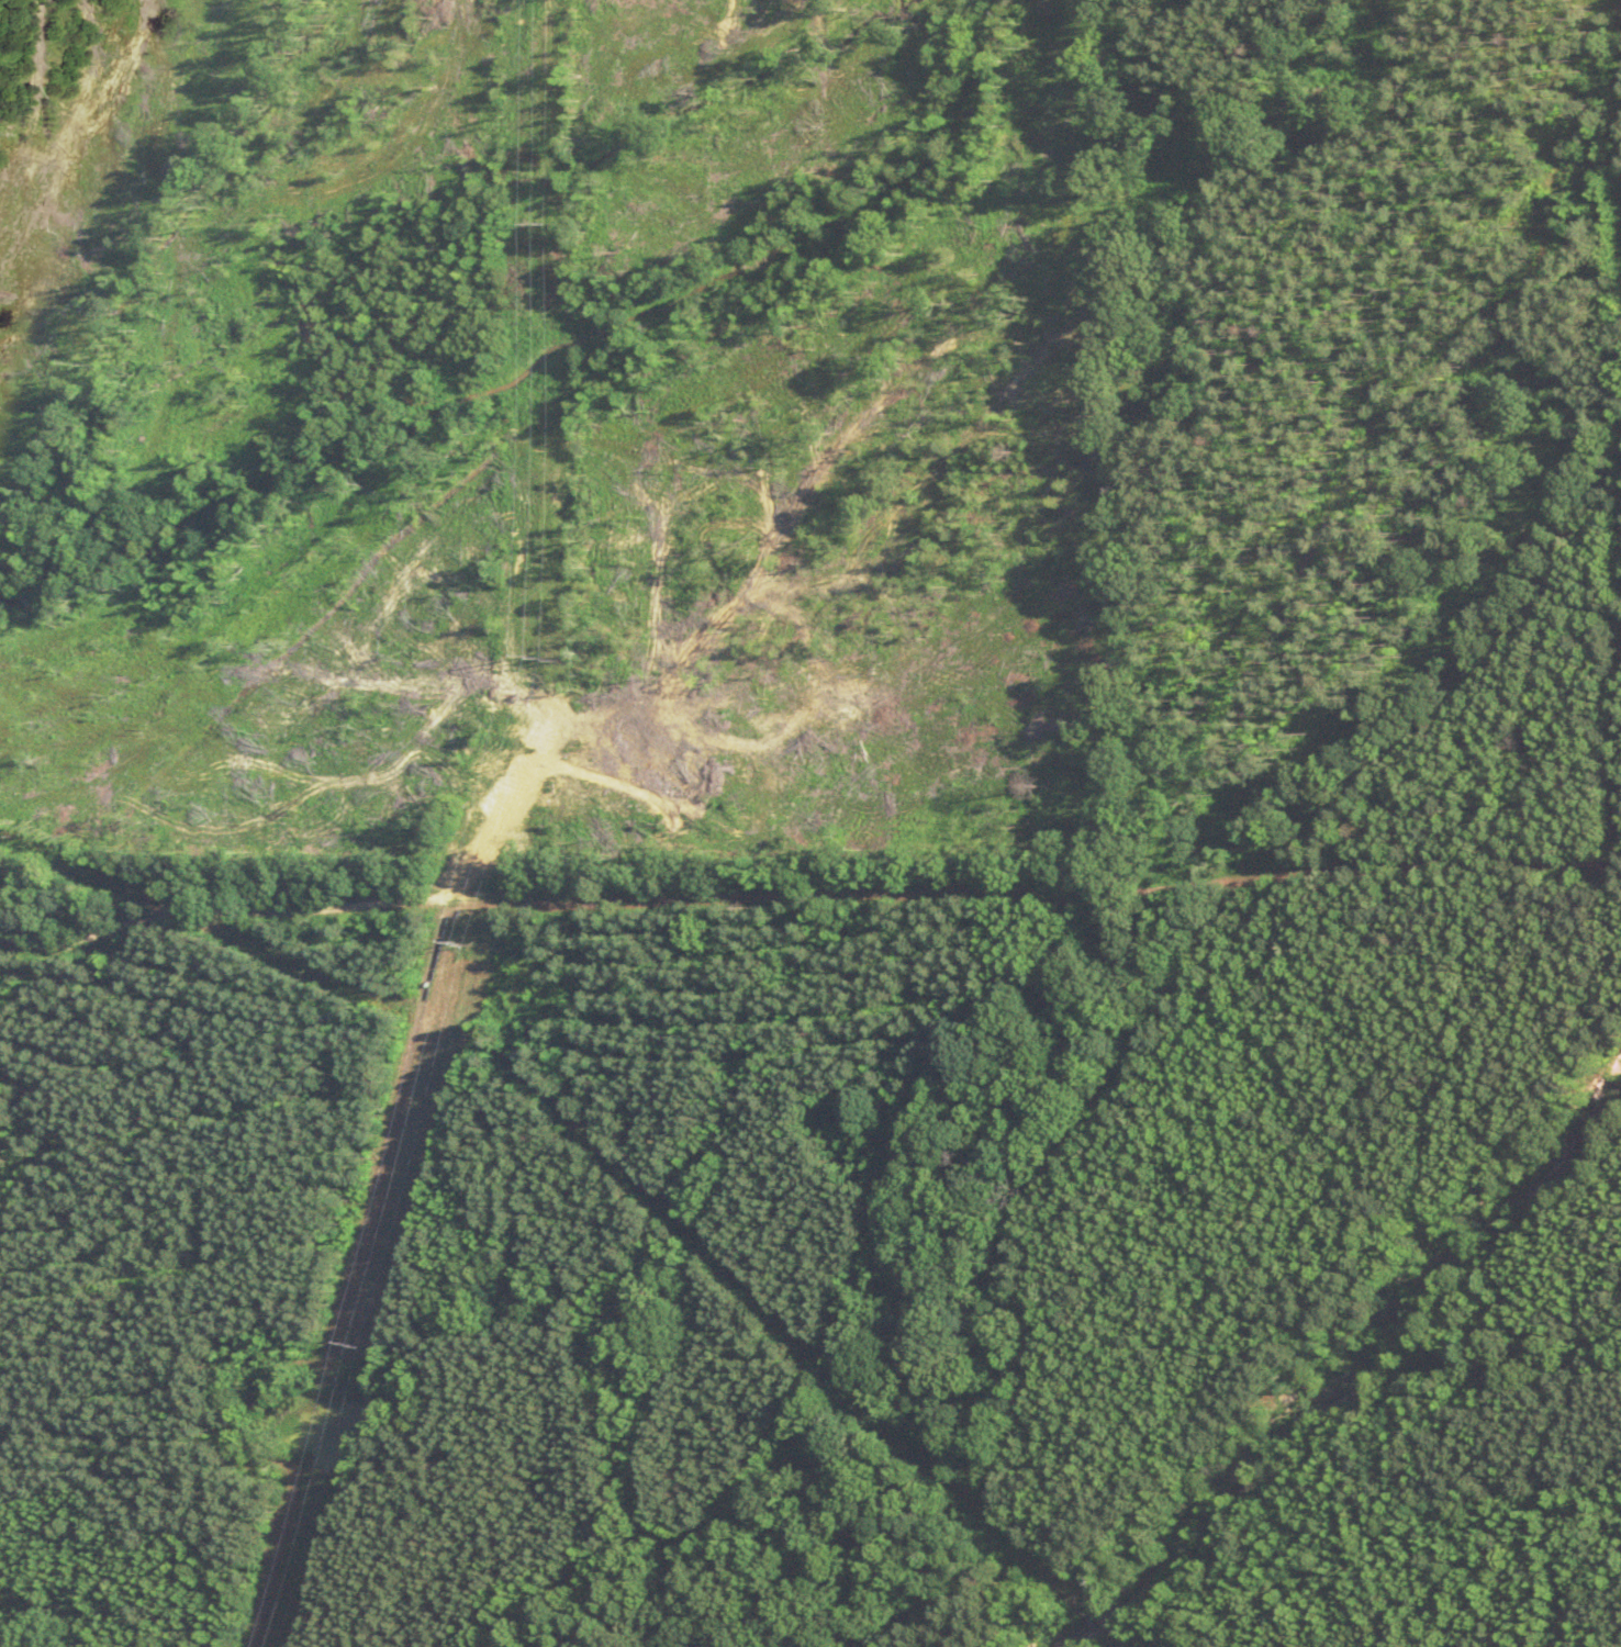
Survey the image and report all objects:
power tower: (540, 222)
power tower: (544, 658)
power tower: (463, 940)
power tower: (356, 1341)

